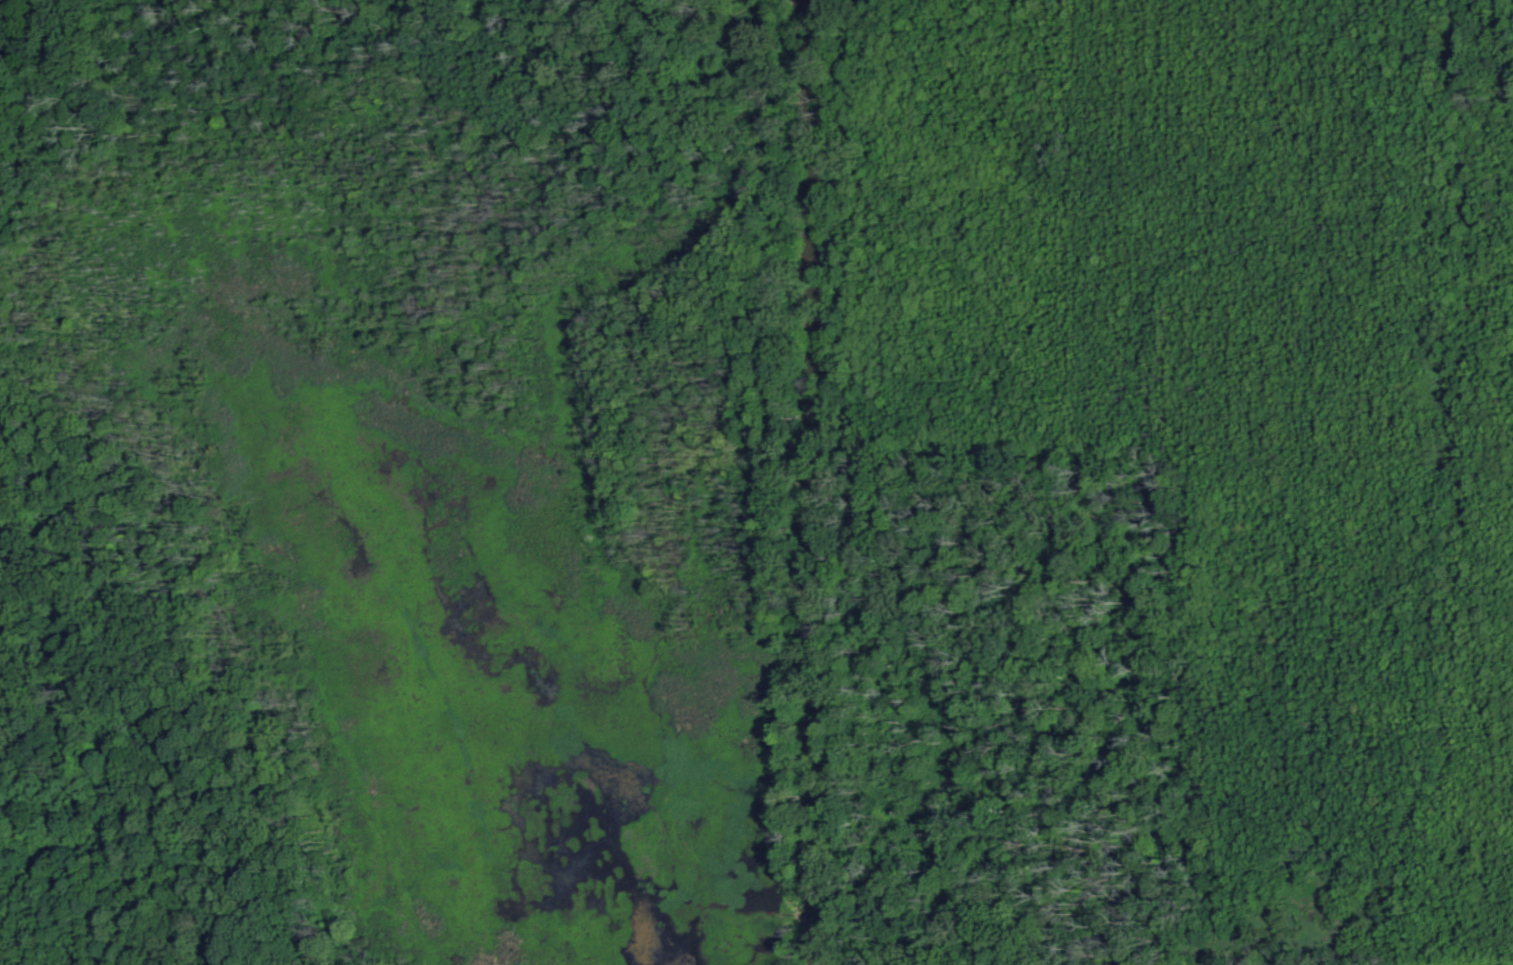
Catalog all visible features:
park: (756, 482)

